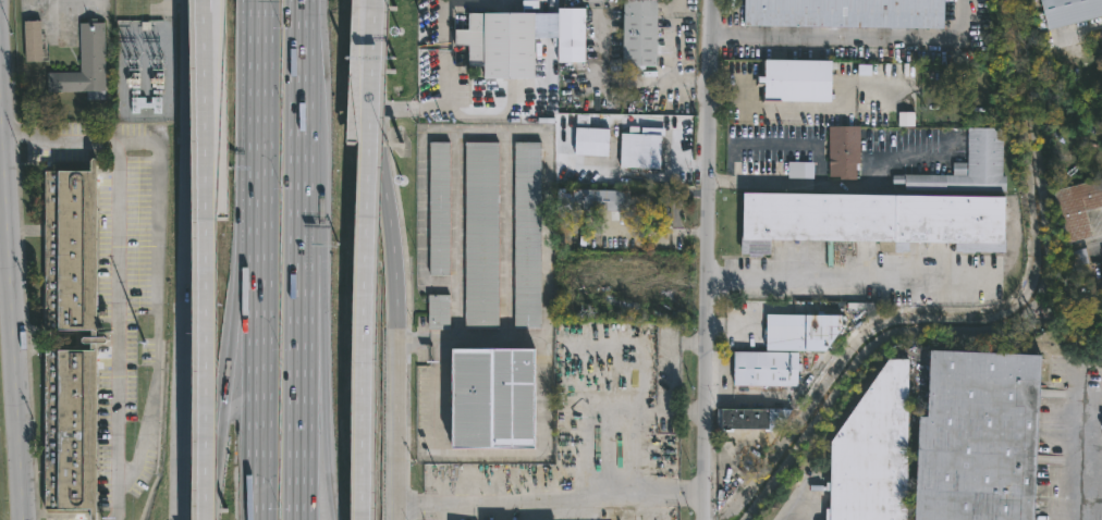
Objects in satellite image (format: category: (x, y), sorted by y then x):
road: (456, 2)
road: (257, 5)
road: (298, 7)
building: (1073, 11)
building: (849, 13)
building: (641, 34)
building: (571, 36)
road: (859, 39)
building: (33, 40)
building: (504, 41)
road: (387, 55)
road: (451, 58)
building: (86, 64)
road: (374, 72)
power substation: (144, 73)
building: (794, 79)
road: (210, 108)
road: (773, 111)
building: (593, 141)
building: (644, 149)
road: (255, 150)
building: (845, 150)
building: (969, 166)
building: (801, 171)
road: (717, 179)
road: (752, 179)
building: (627, 206)
building: (1077, 208)
building: (440, 209)
building: (870, 221)
building: (482, 236)
building: (528, 236)
road: (708, 259)
road: (184, 260)
road: (298, 265)
road: (850, 273)
road: (118, 274)
road: (157, 299)
road: (9, 302)
road: (310, 306)
building: (440, 312)
road: (389, 314)
power tower: (145, 329)
road: (367, 331)
building: (799, 333)
road: (256, 336)
road: (240, 337)
building: (95, 339)
road: (466, 341)
road: (209, 369)
building: (762, 370)
road: (669, 397)
building: (489, 401)
road: (686, 412)
building: (755, 420)
road: (591, 430)
building: (978, 437)
road: (325, 438)
road: (258, 451)
road: (218, 453)
building: (872, 453)
road: (1082, 455)
road: (489, 458)
park: (0, 498)
road: (549, 500)
road: (795, 505)

